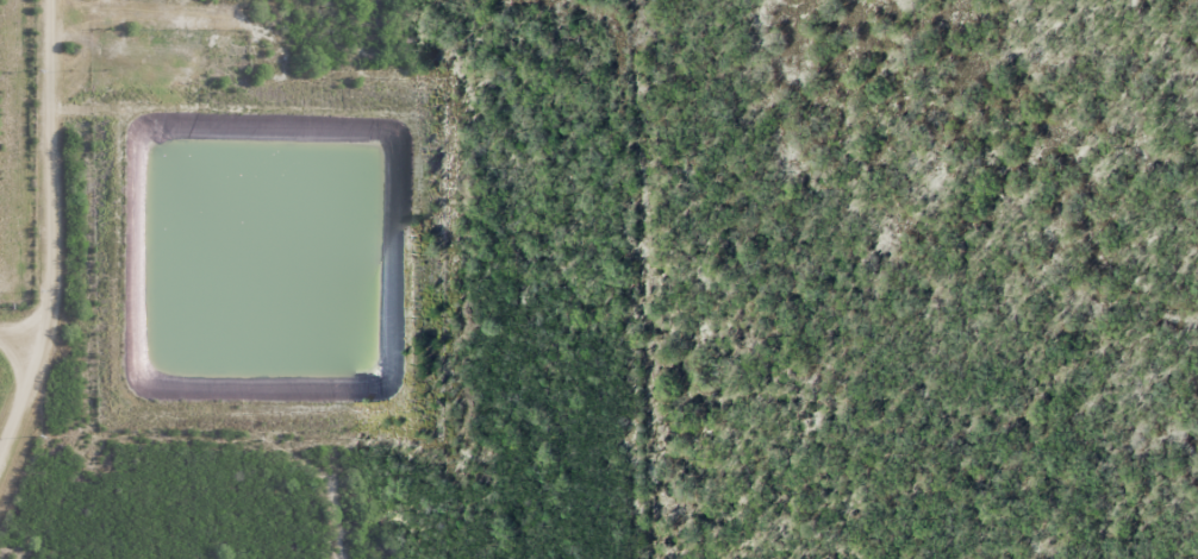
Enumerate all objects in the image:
road: (51, 238)

